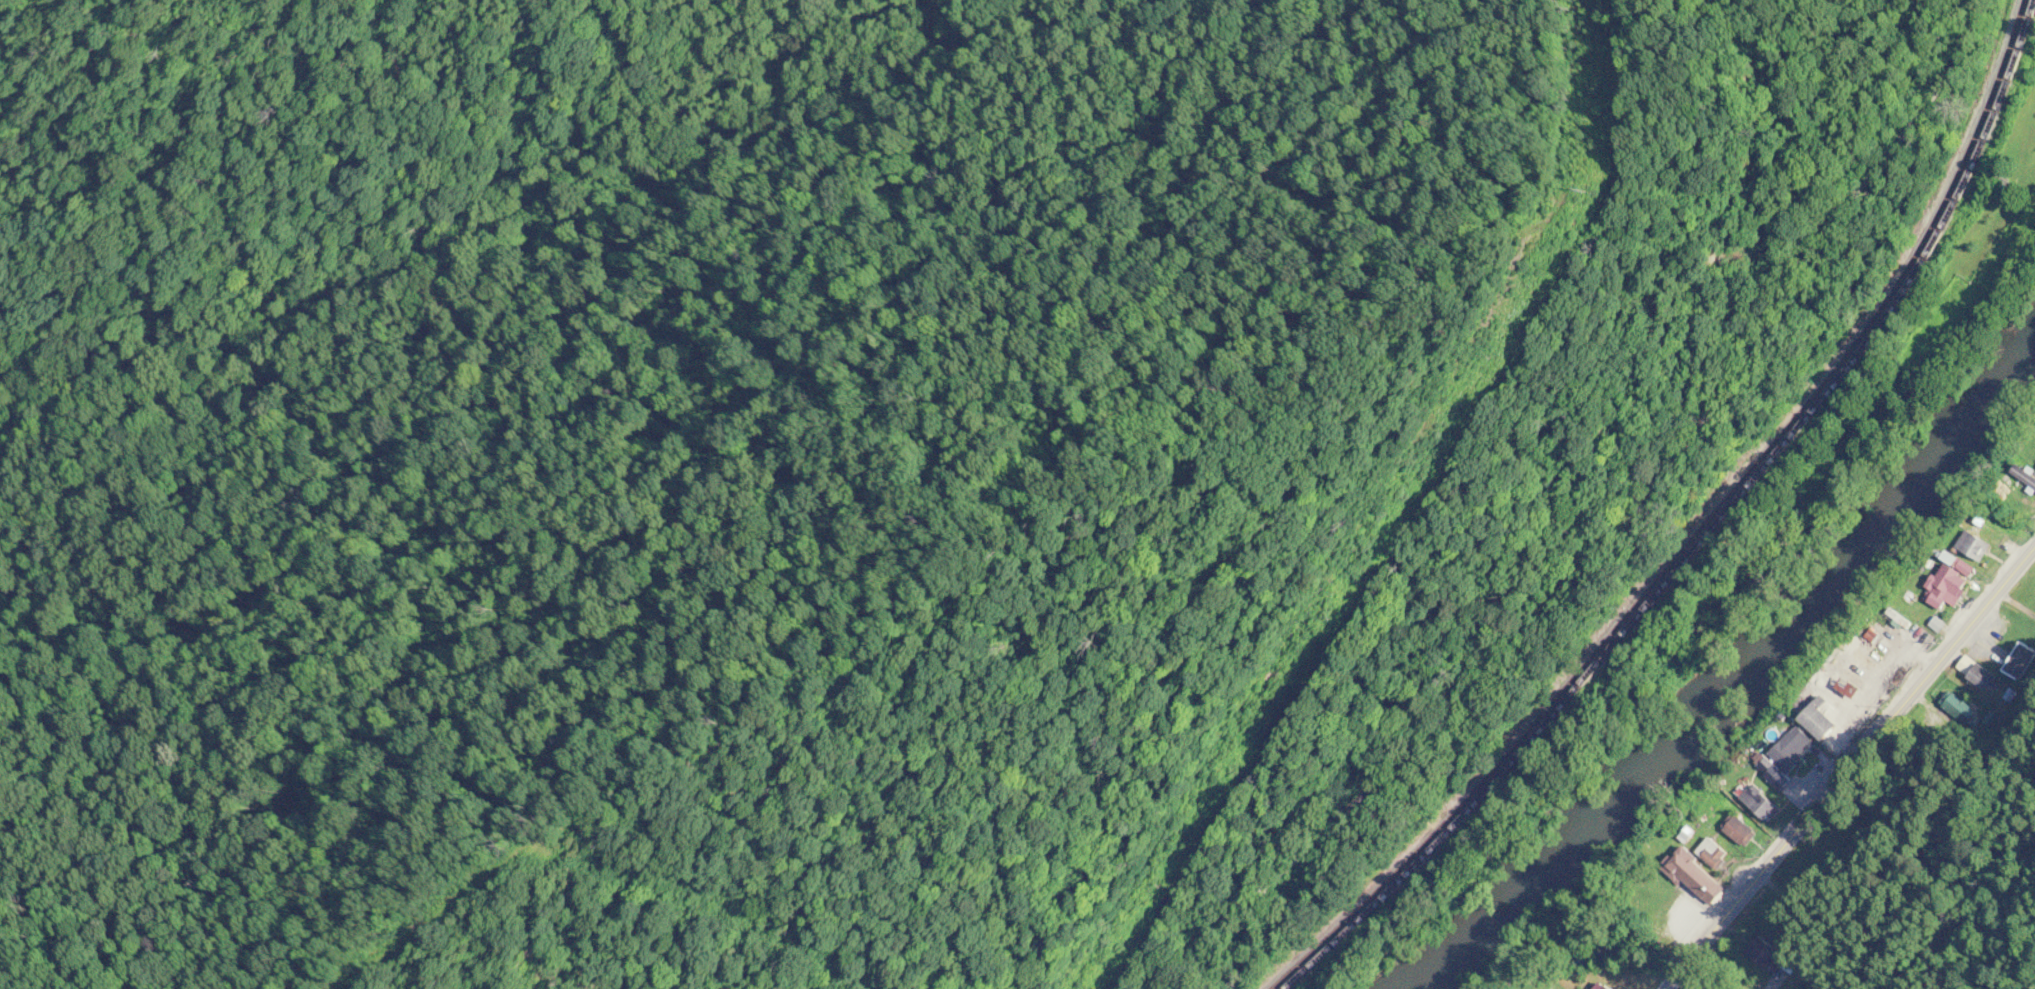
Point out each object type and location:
power tower: (1589, 189)
road: (1613, 522)
railway: (1700, 536)
building: (1974, 545)
building: (1950, 583)
building: (2017, 662)
building: (1979, 675)
river: (1740, 681)
building: (1849, 688)
building: (1821, 721)
building: (1791, 750)
road: (1846, 761)
power tower: (1232, 767)
building: (1771, 773)
building: (1760, 803)
building: (1738, 830)
building: (1711, 853)
building: (1696, 874)
building: (1765, 954)
road: (1694, 980)
building: (1601, 986)

